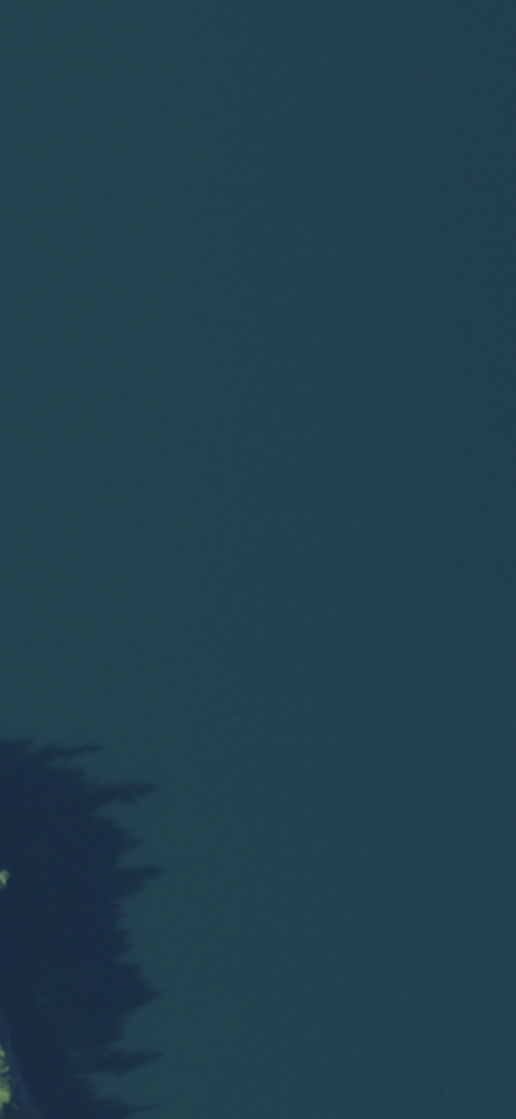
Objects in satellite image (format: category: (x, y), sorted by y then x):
river: (494, 22)

